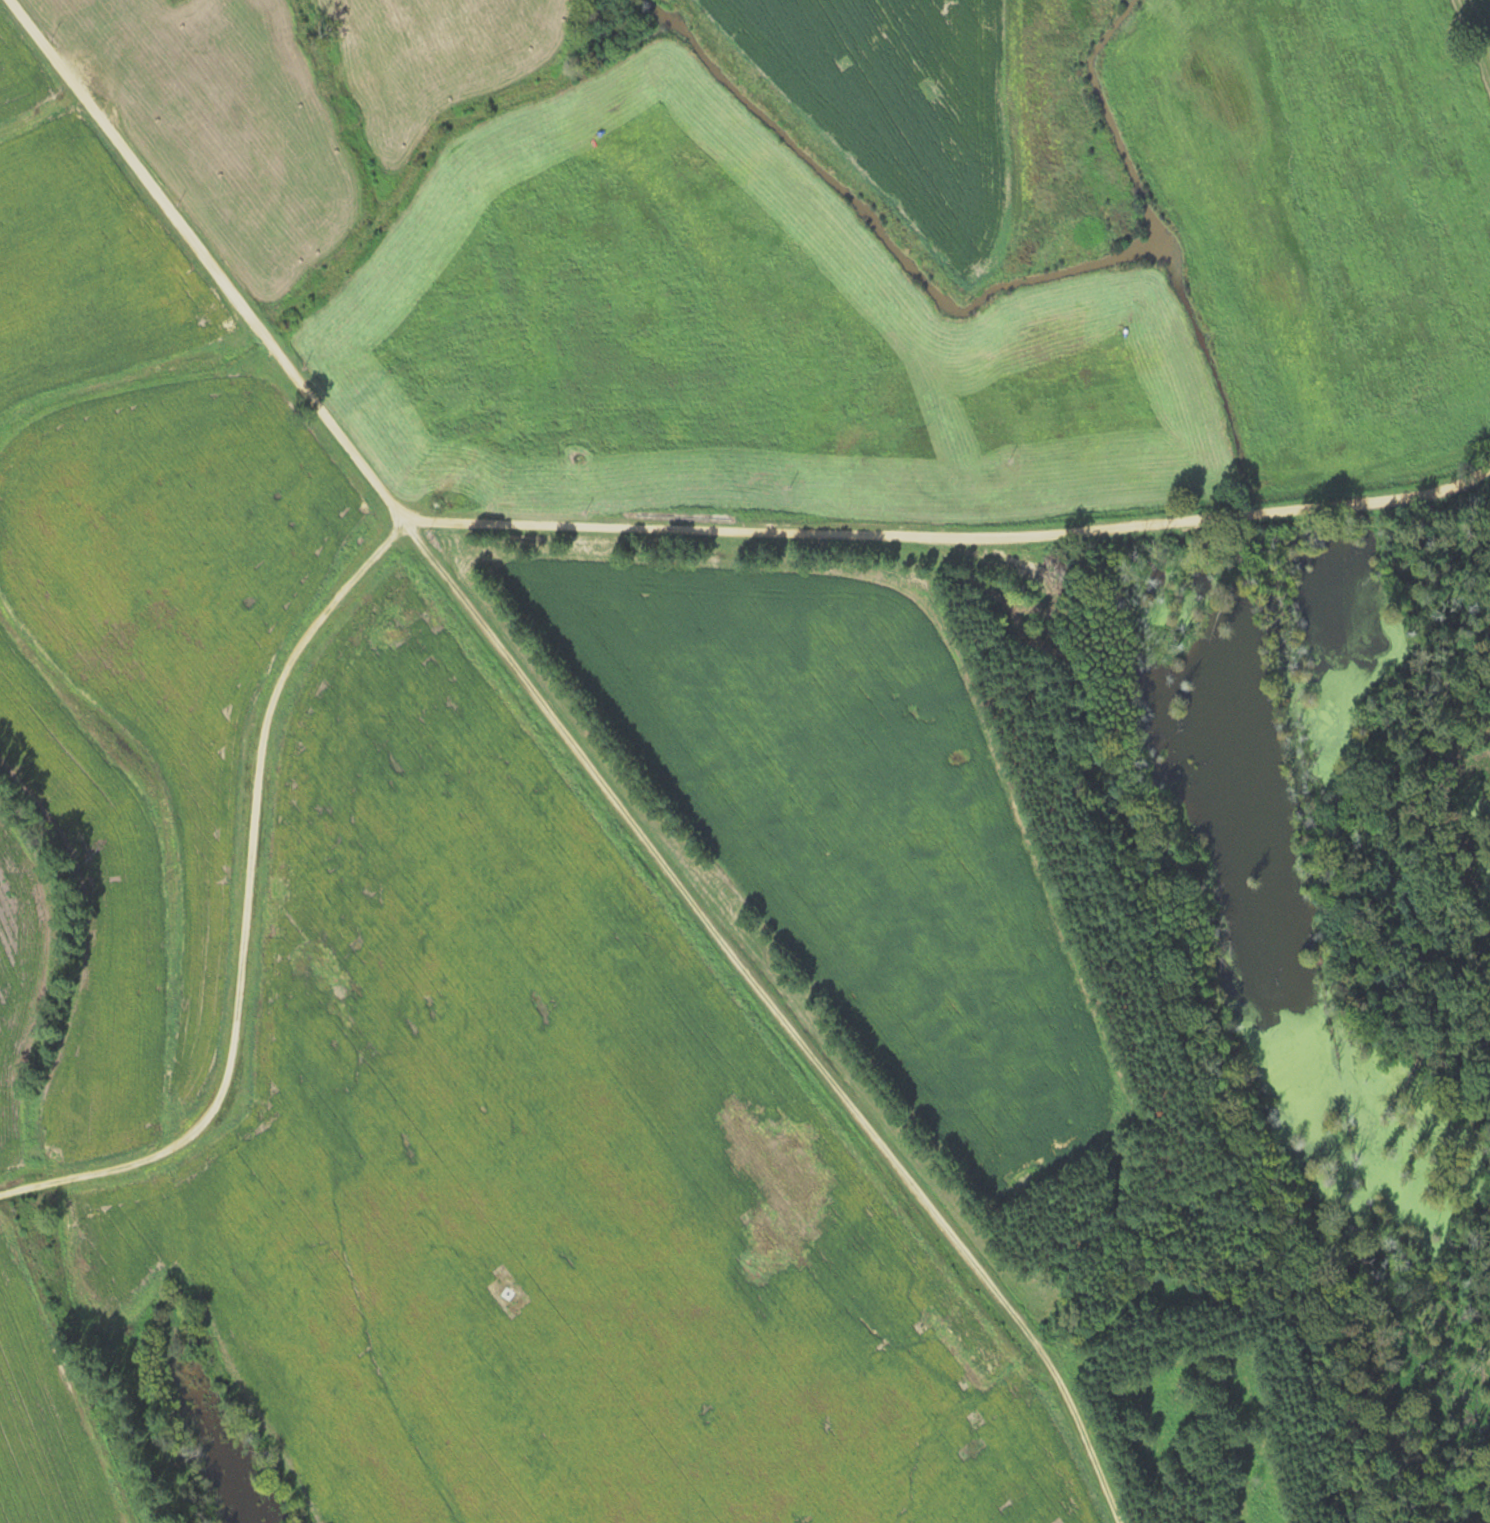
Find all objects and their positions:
road: (39, 44)
road: (515, 521)
road: (580, 764)

